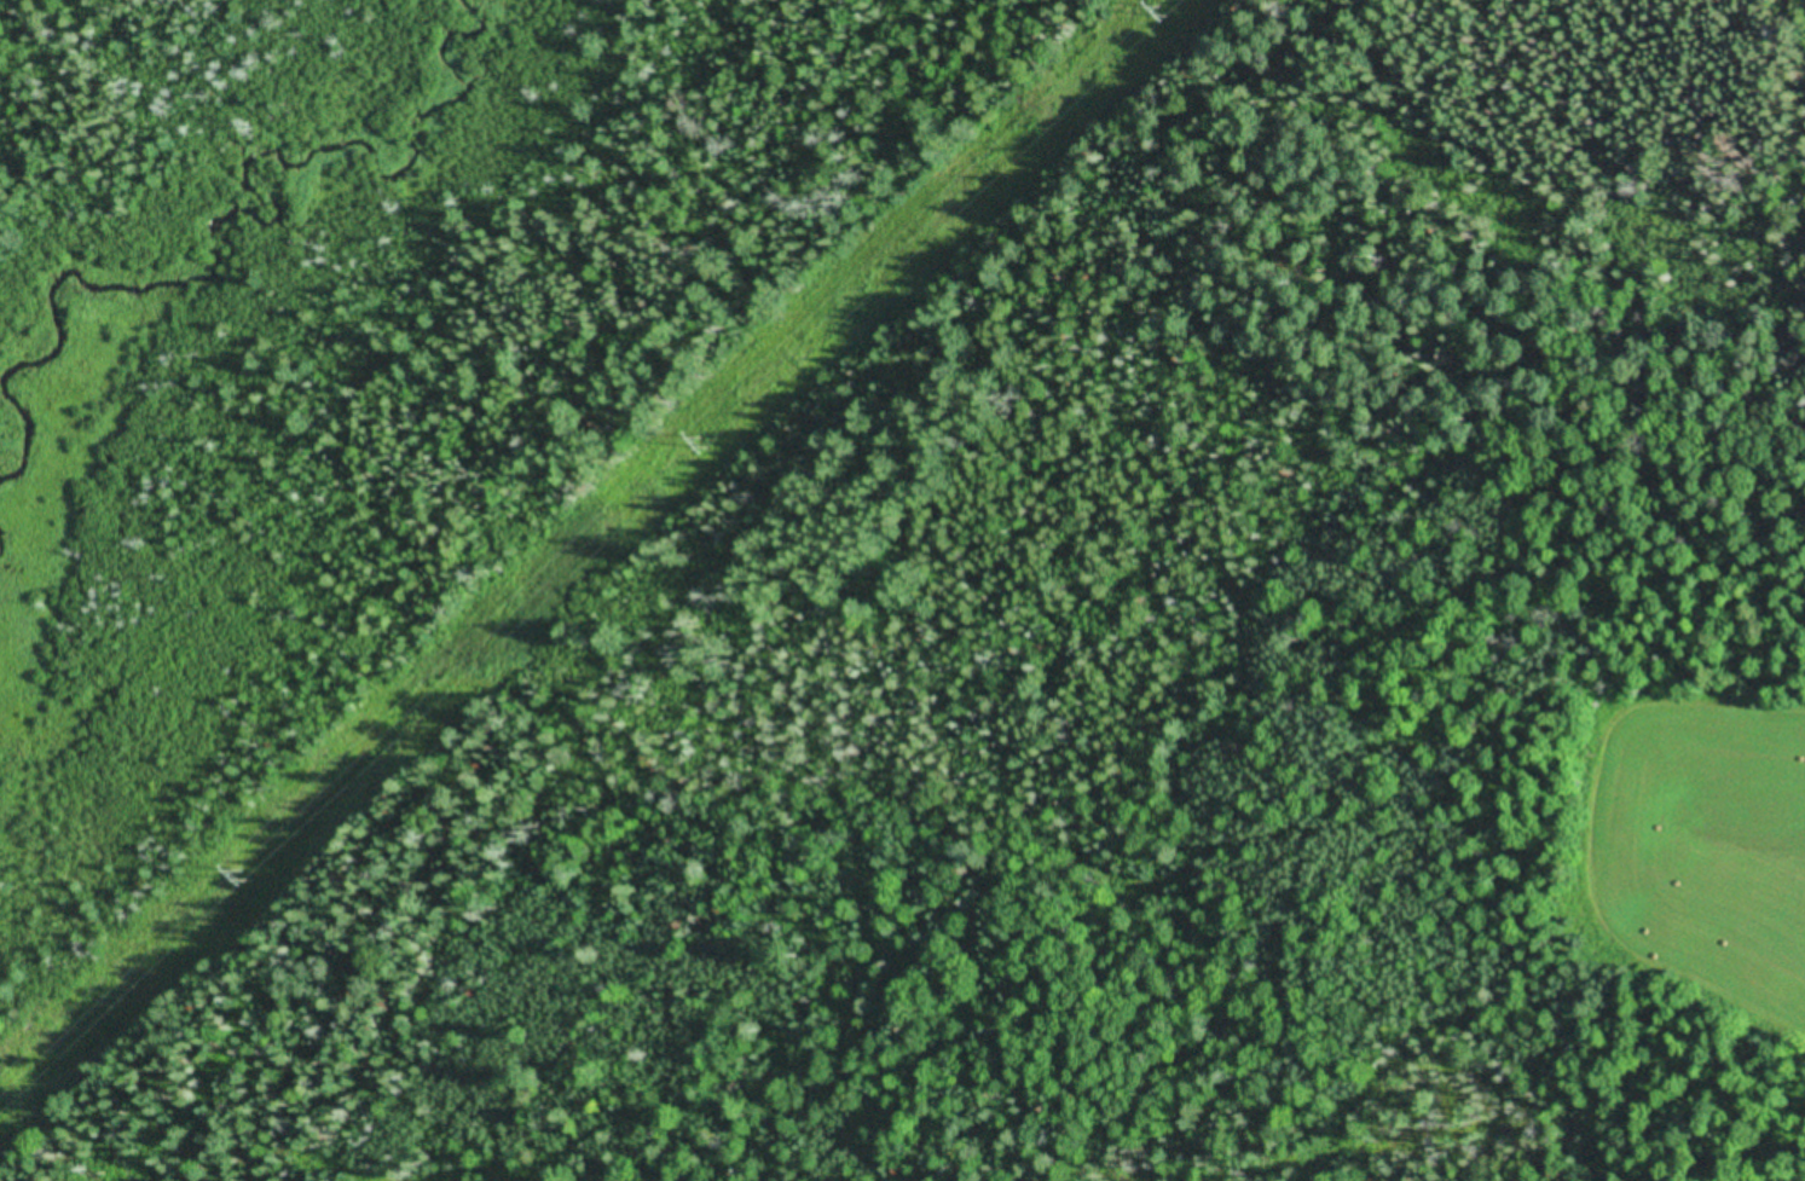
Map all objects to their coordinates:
building: (852, 581)

